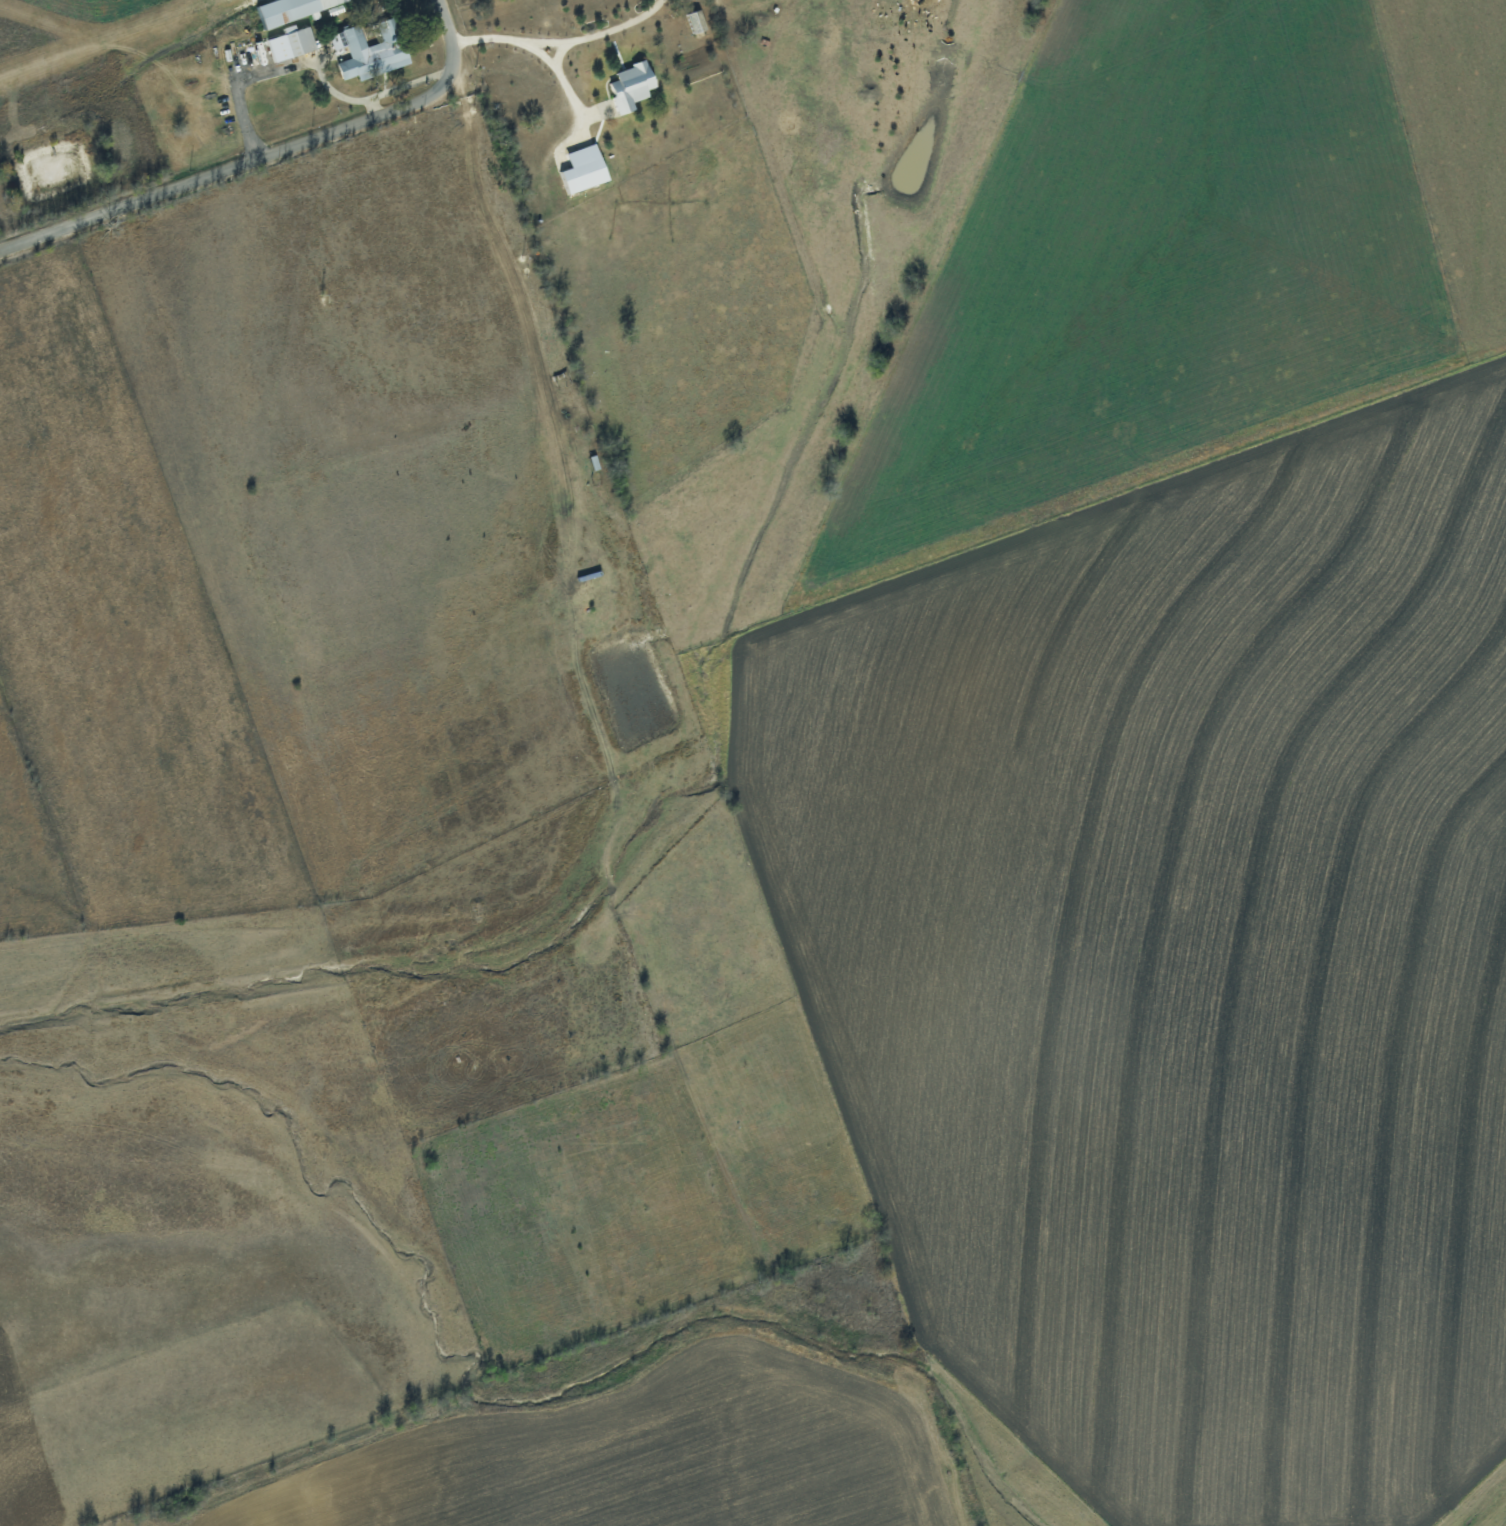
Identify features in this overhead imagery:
airport runway: (66, 22)
road: (592, 35)
airport runway: (111, 40)
building: (293, 42)
road: (533, 49)
road: (560, 51)
building: (634, 85)
road: (266, 154)
building: (586, 168)

